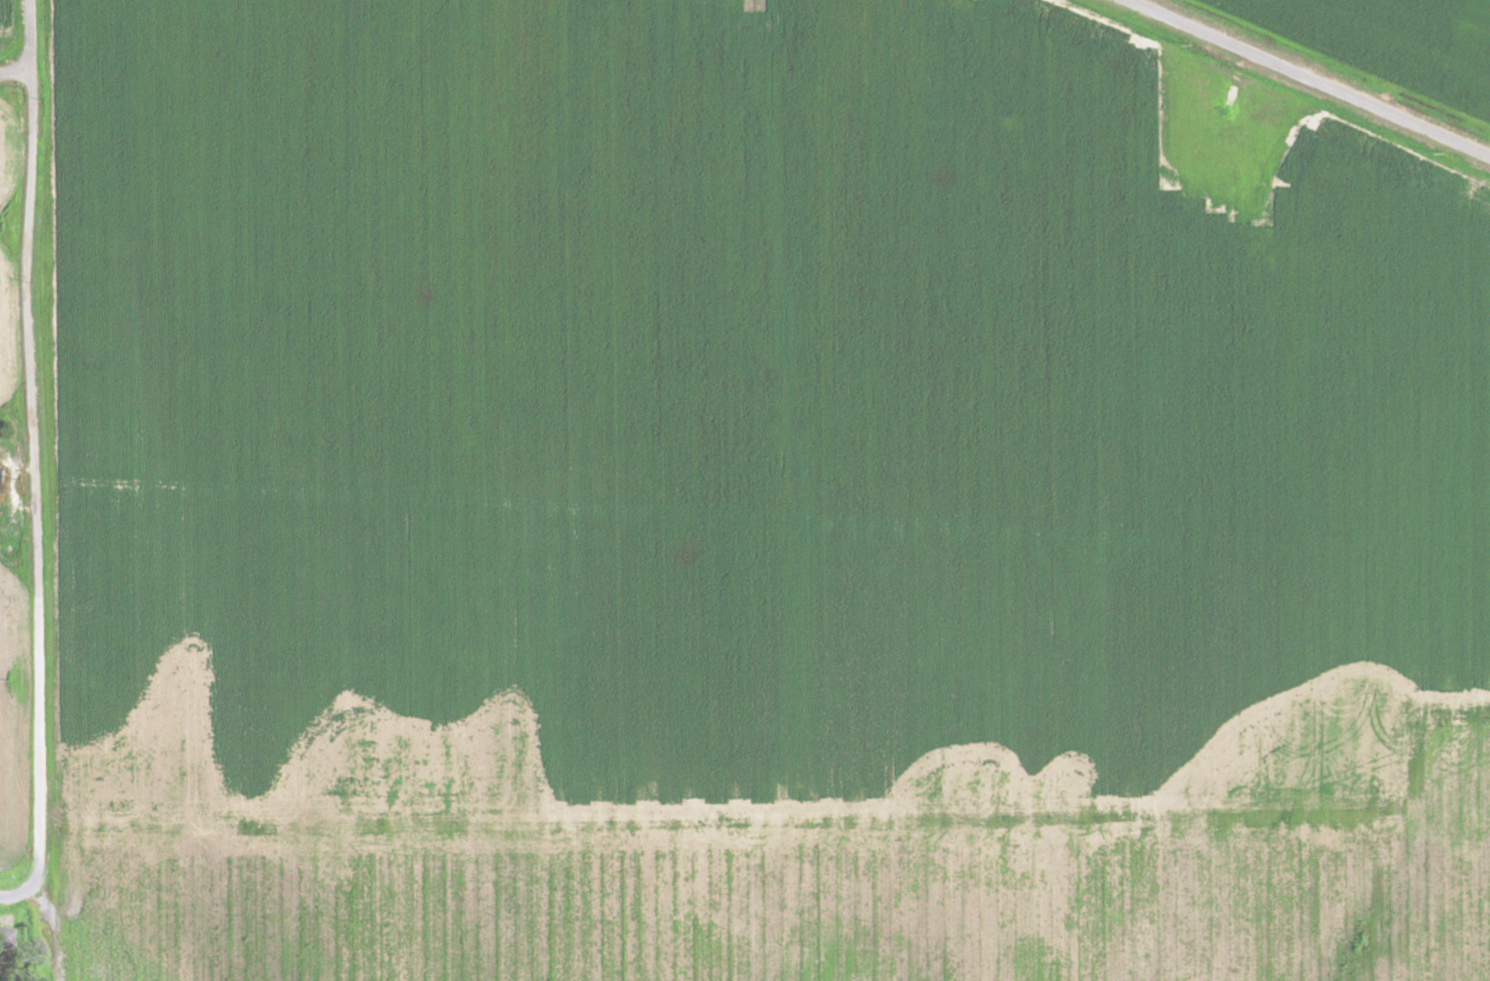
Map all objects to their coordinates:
road: (1324, 69)
building: (0, 494)
building: (6, 932)

